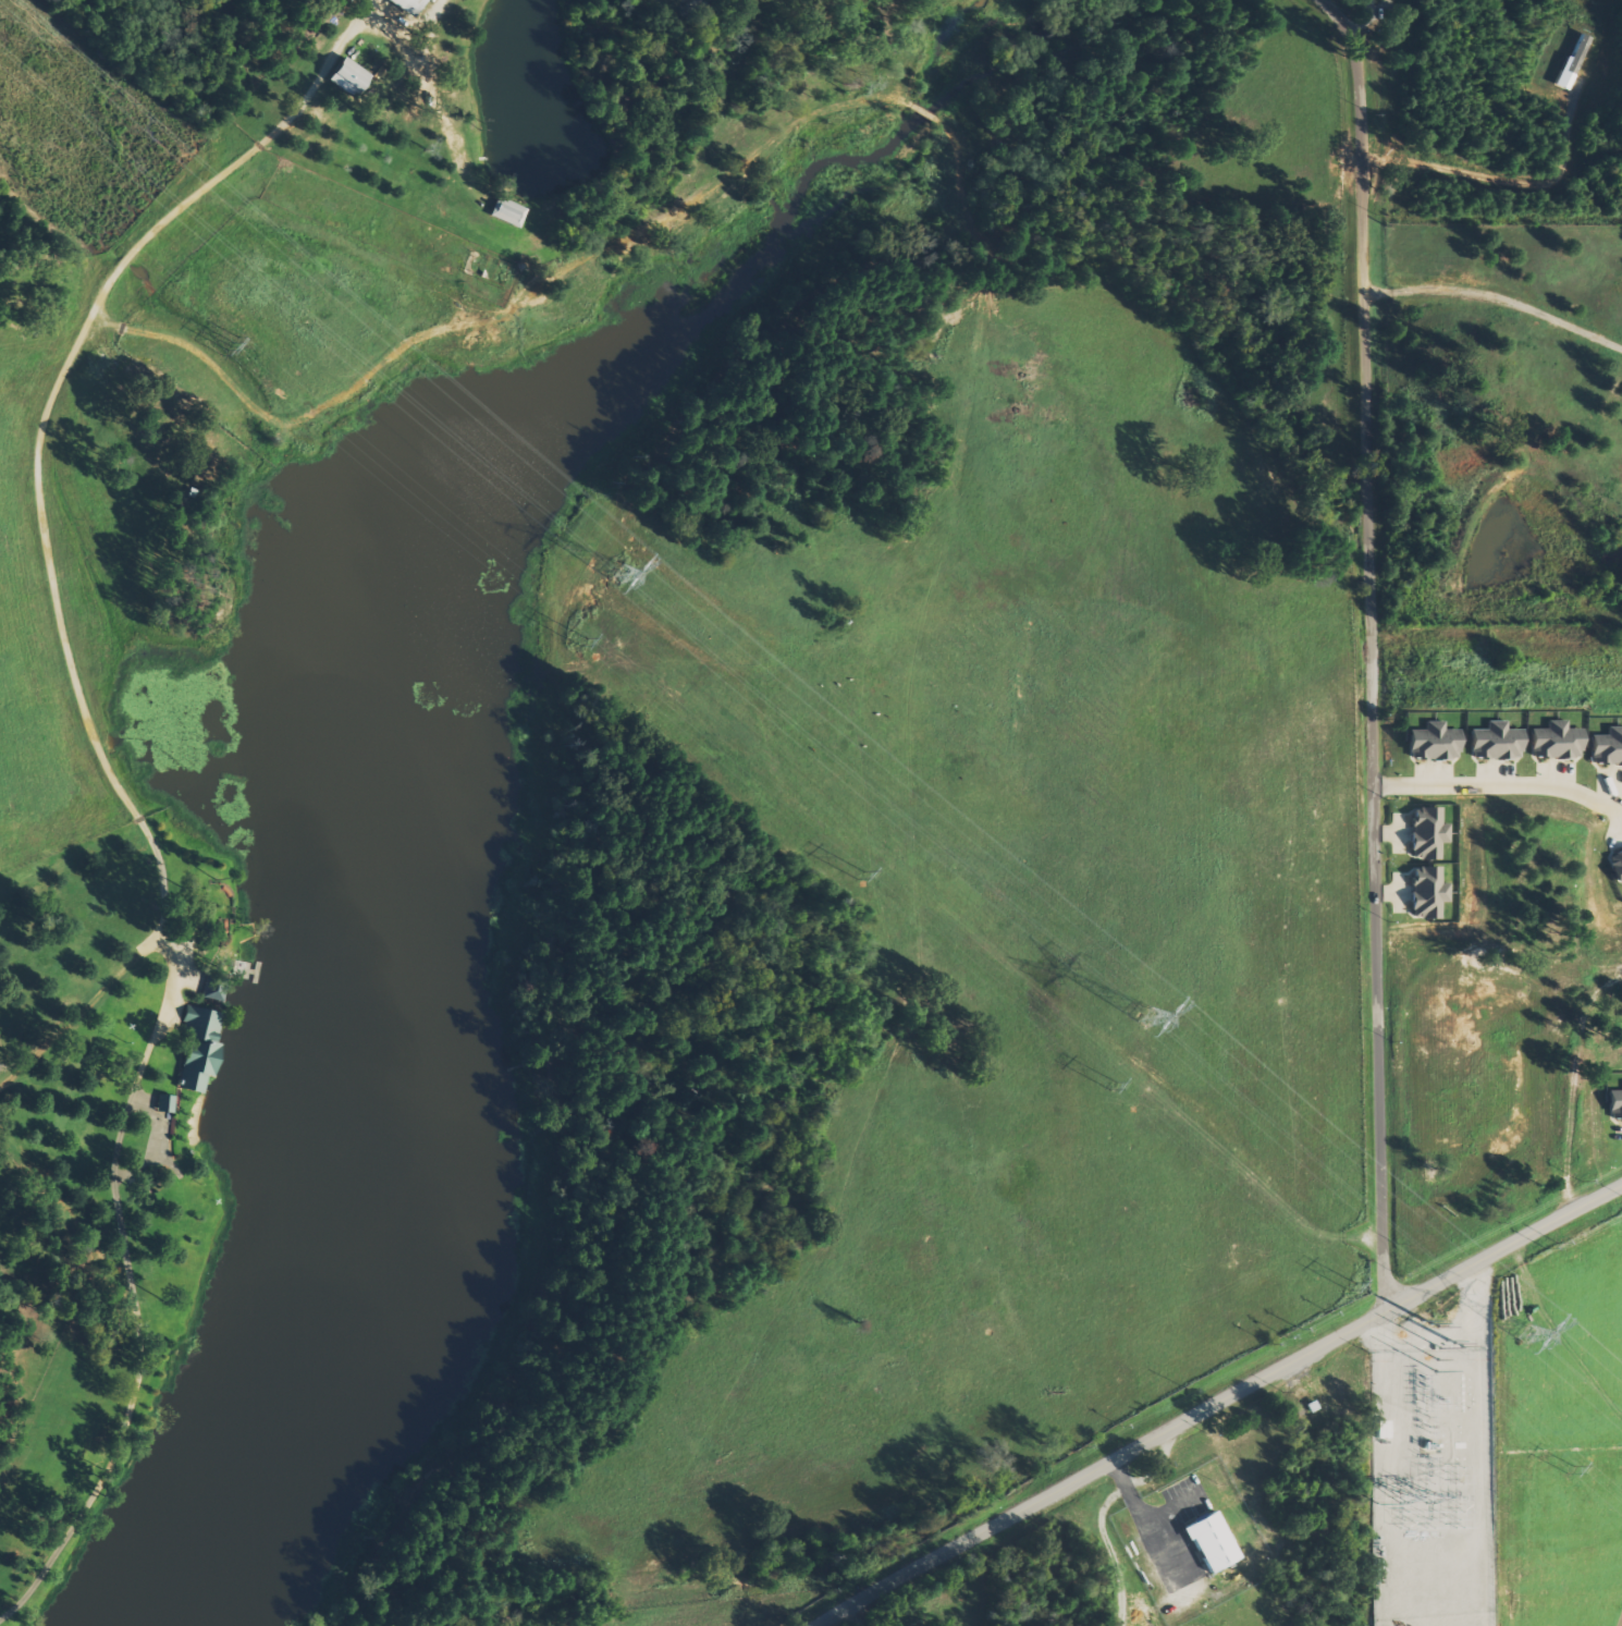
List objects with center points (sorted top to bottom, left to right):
building: (407, 5)
building: (1572, 62)
building: (346, 77)
building: (506, 212)
power tower: (626, 575)
road: (1369, 648)
building: (1556, 741)
building: (1496, 742)
building: (1433, 743)
building: (1607, 747)
road: (1499, 784)
building: (1428, 833)
building: (1617, 865)
building: (1428, 892)
building: (214, 989)
power tower: (1147, 1016)
building: (198, 1048)
building: (164, 1103)
building: (1615, 1104)
power tower: (1528, 1336)
road: (1225, 1403)
power substation: (1433, 1489)
building: (1211, 1542)

